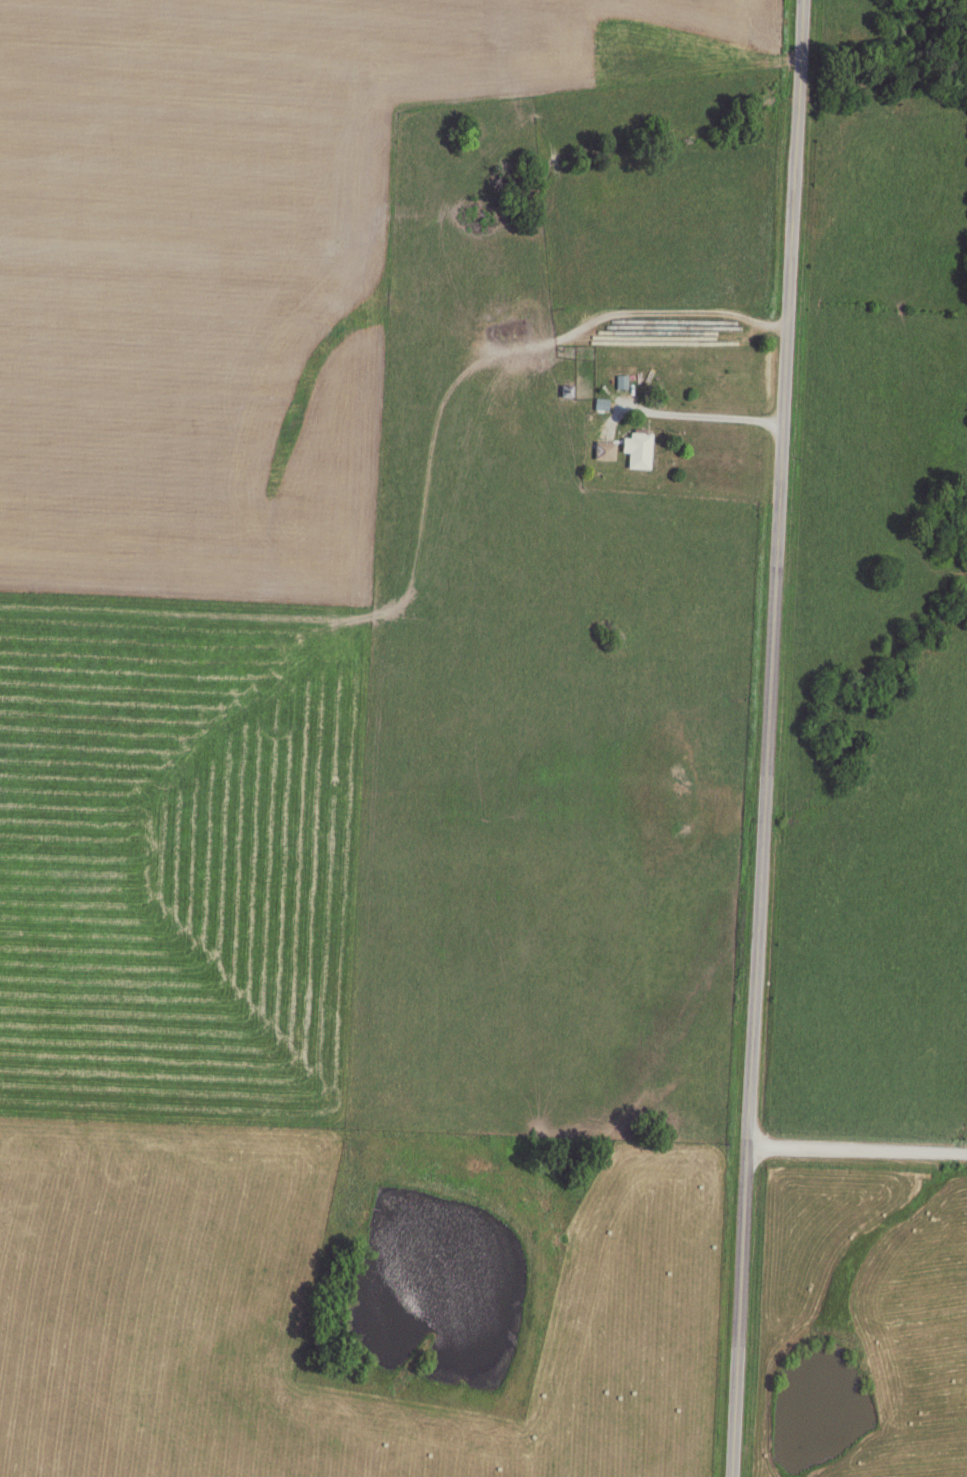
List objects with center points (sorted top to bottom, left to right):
road: (561, 333)
building: (601, 403)
road: (663, 412)
building: (639, 448)
building: (605, 450)
road: (332, 680)
road: (767, 738)
road: (858, 1151)

